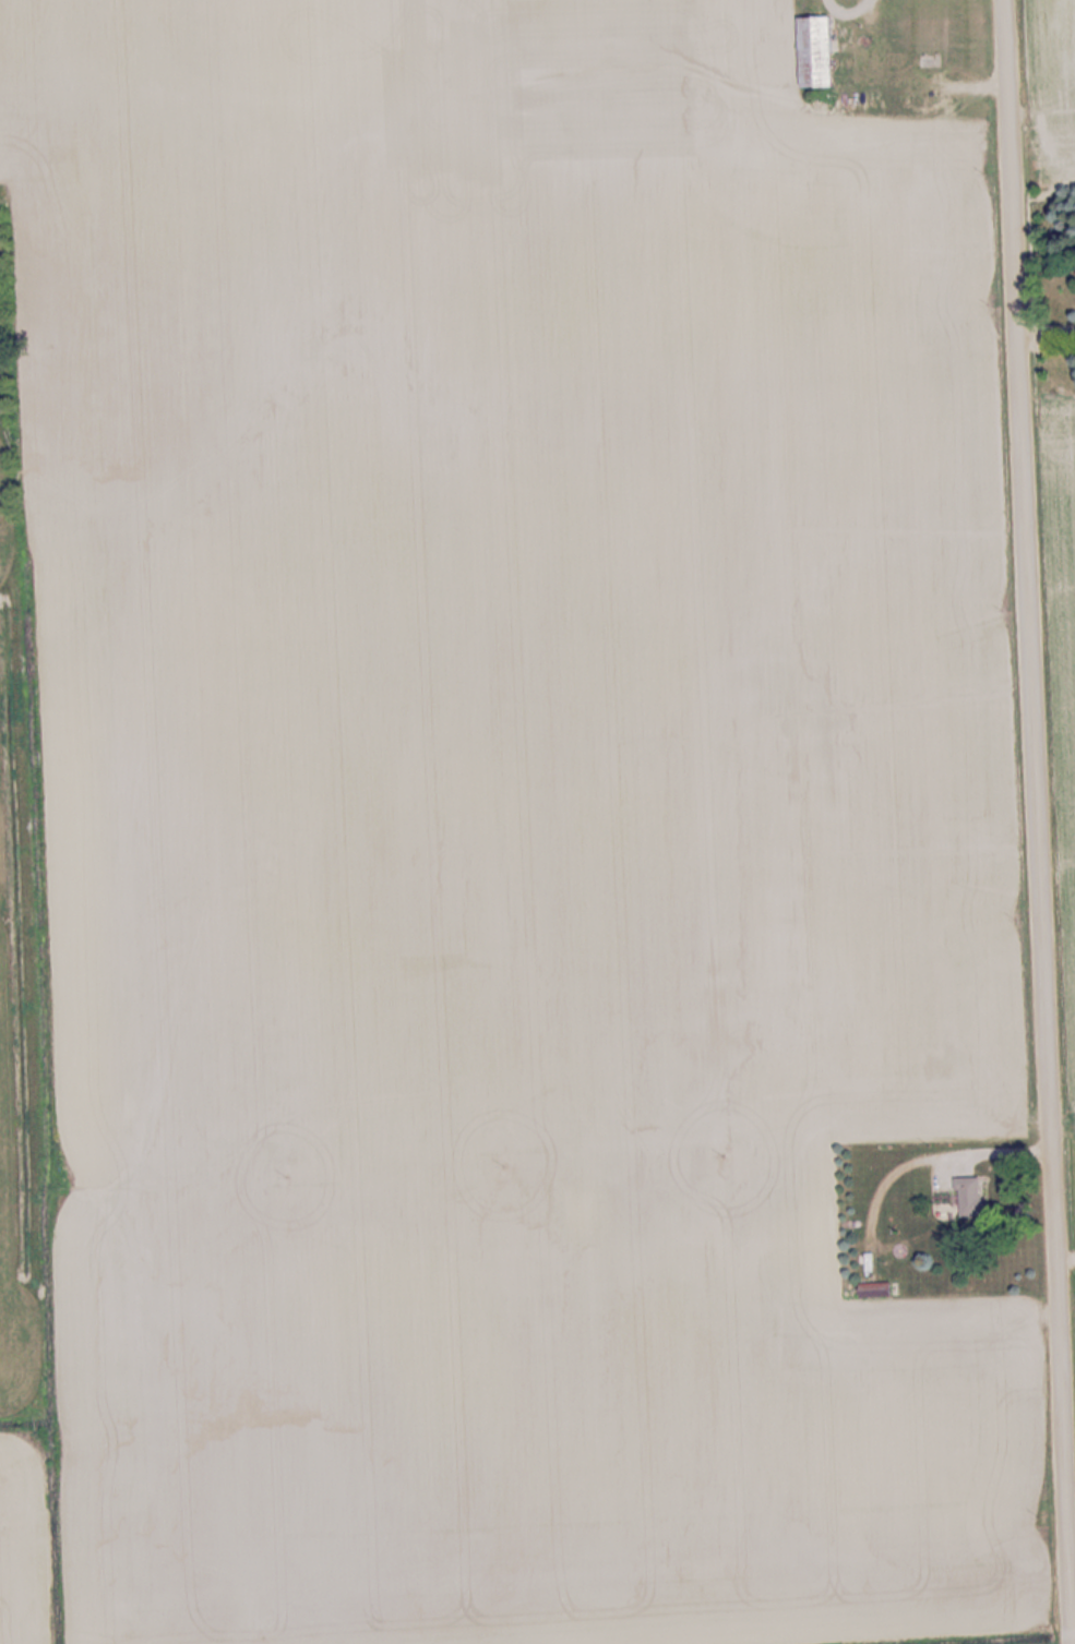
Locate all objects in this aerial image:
building: (821, 51)
road: (1034, 821)
building: (972, 1198)

